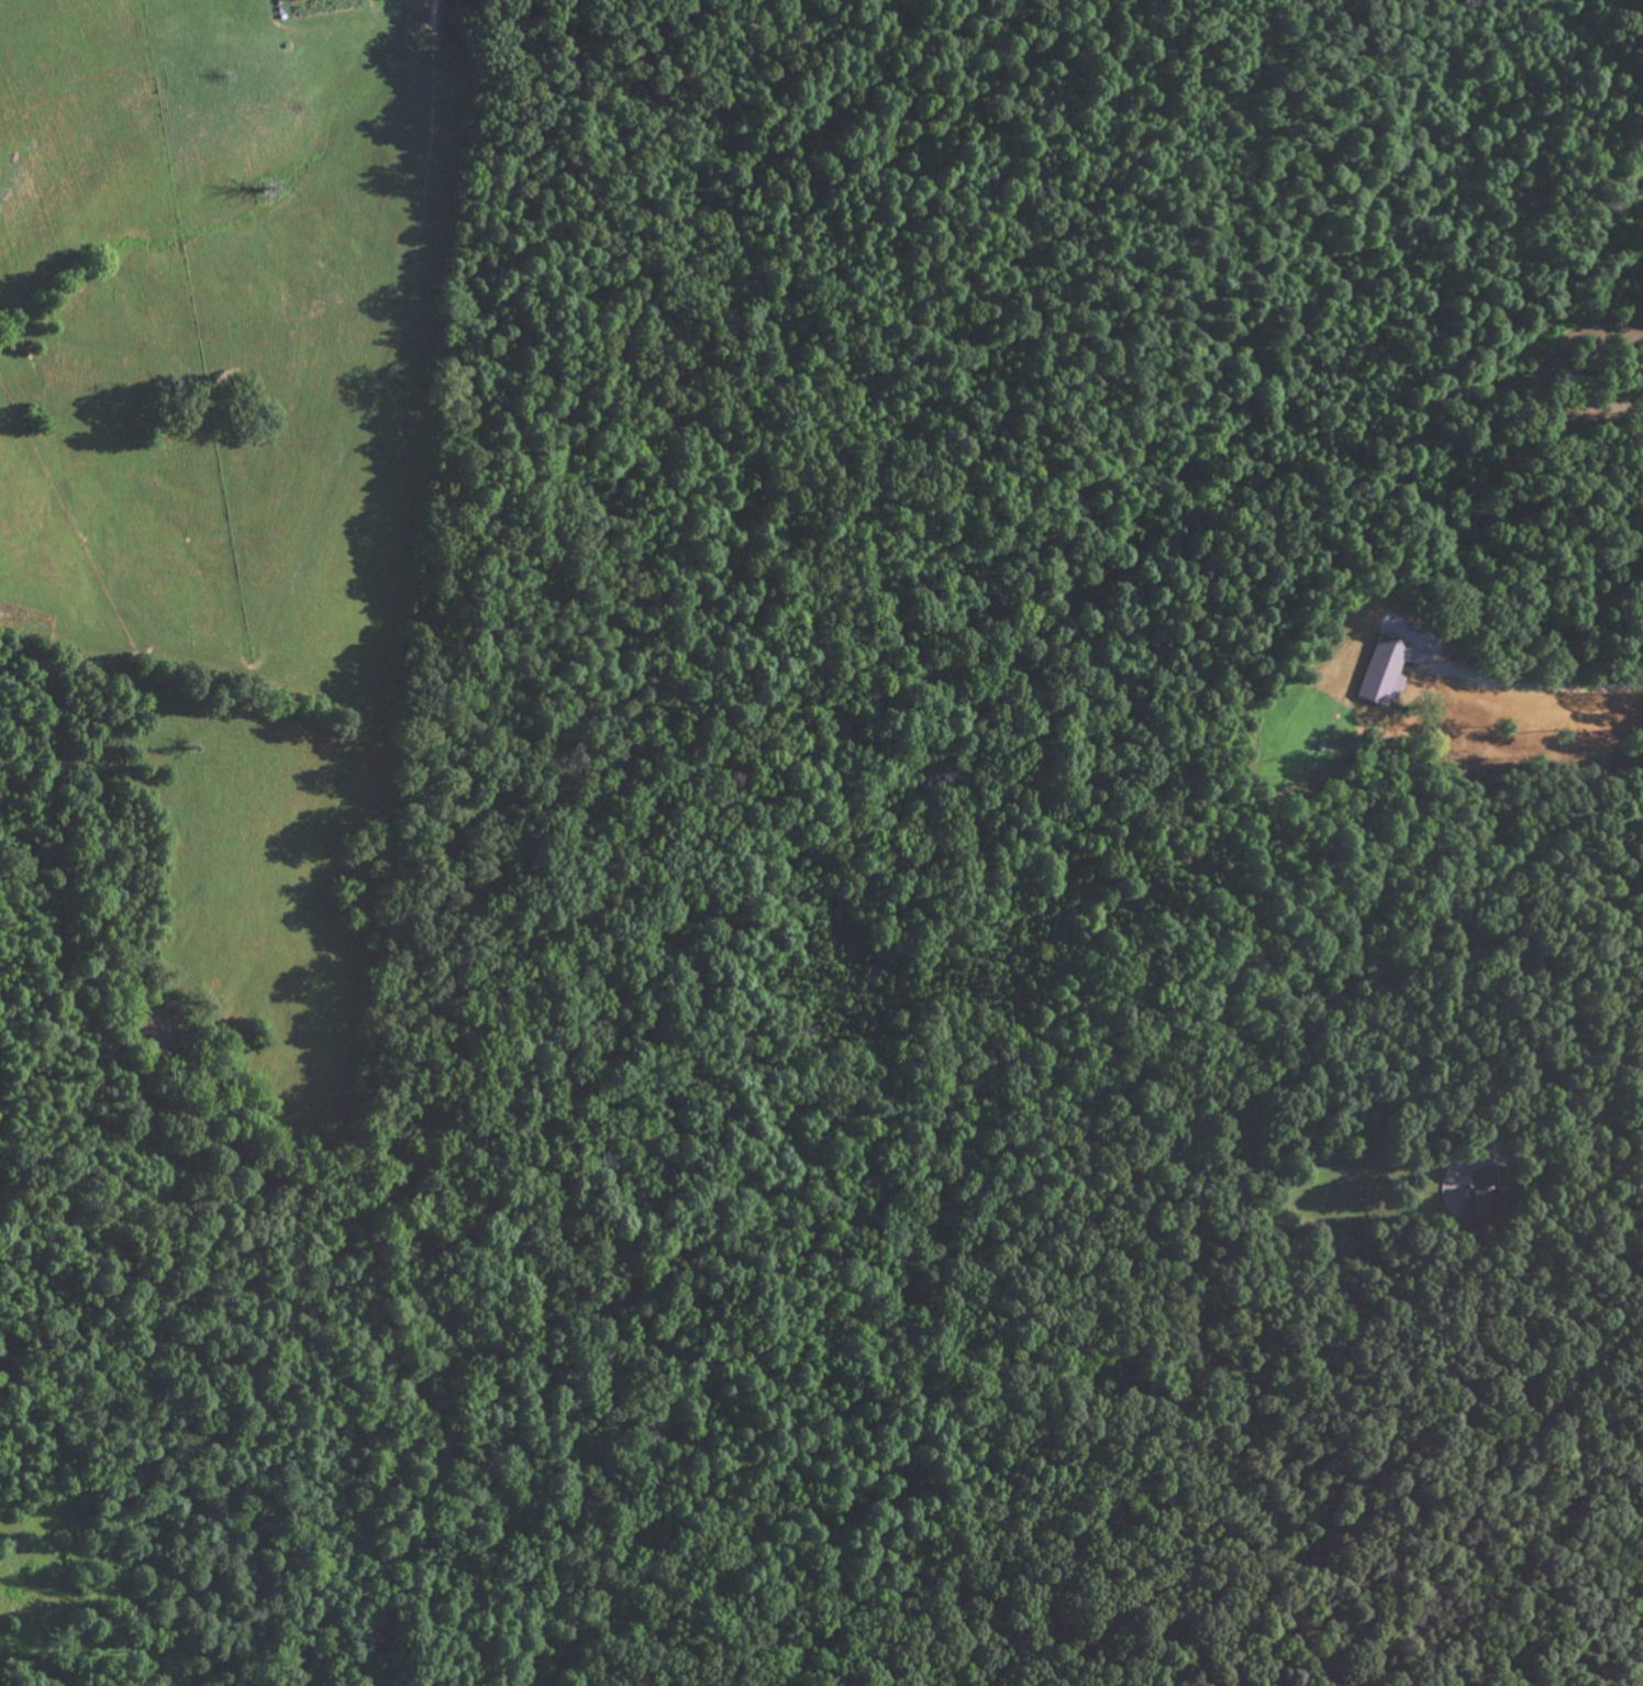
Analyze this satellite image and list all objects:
building: (1384, 670)
building: (1481, 1200)
road: (1635, 1676)

